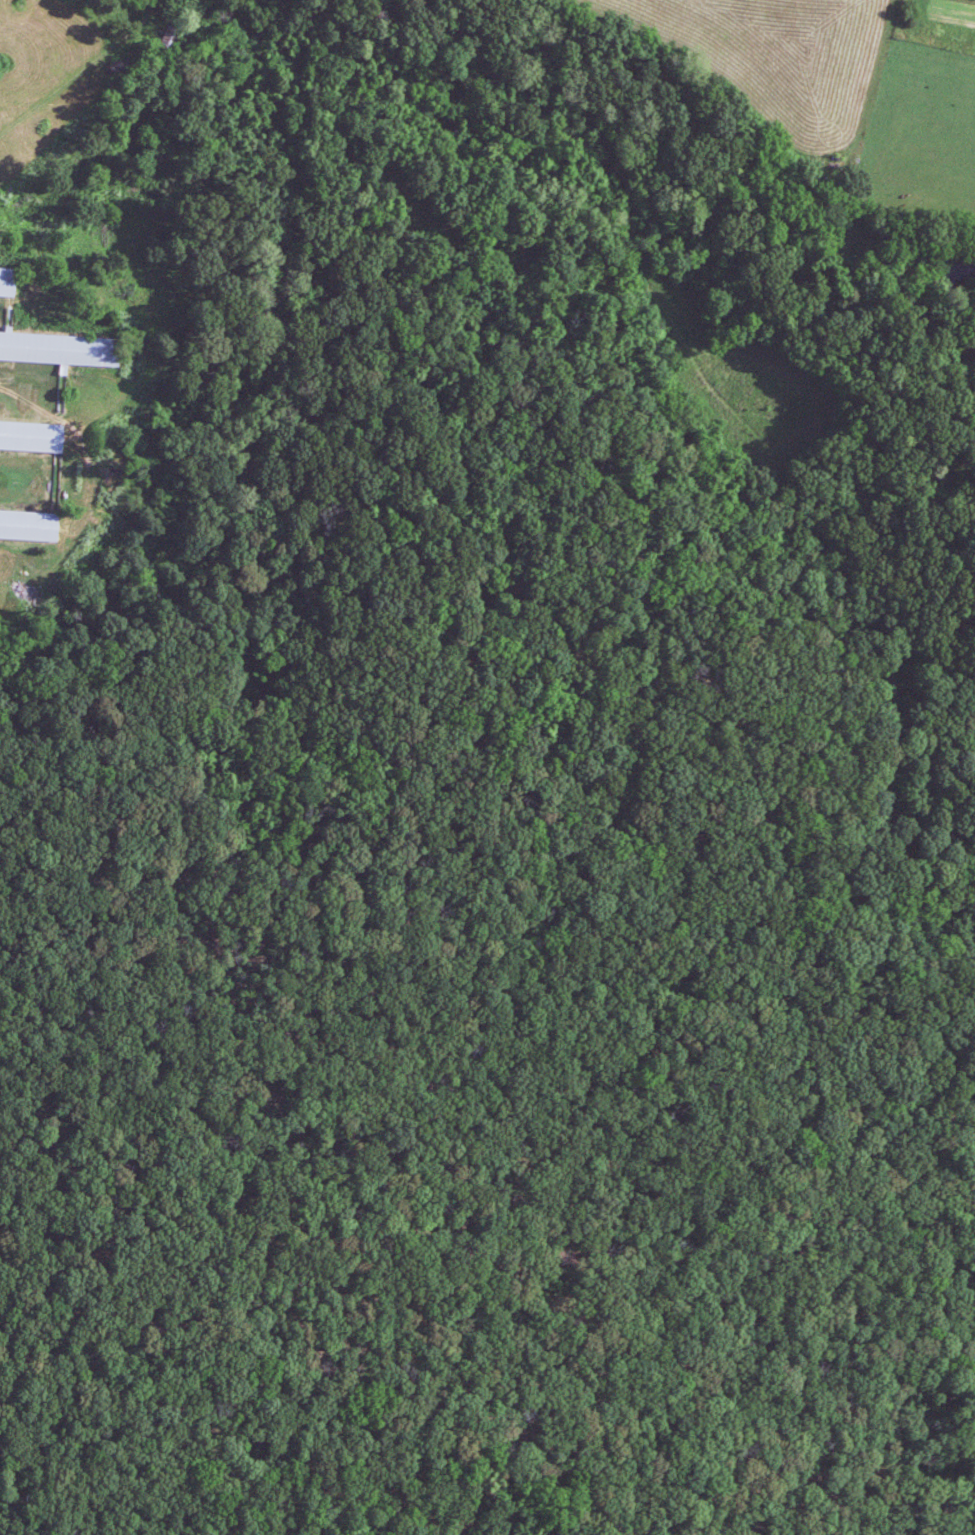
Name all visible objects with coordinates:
building: (7, 281)
building: (58, 348)
building: (30, 436)
building: (27, 525)

